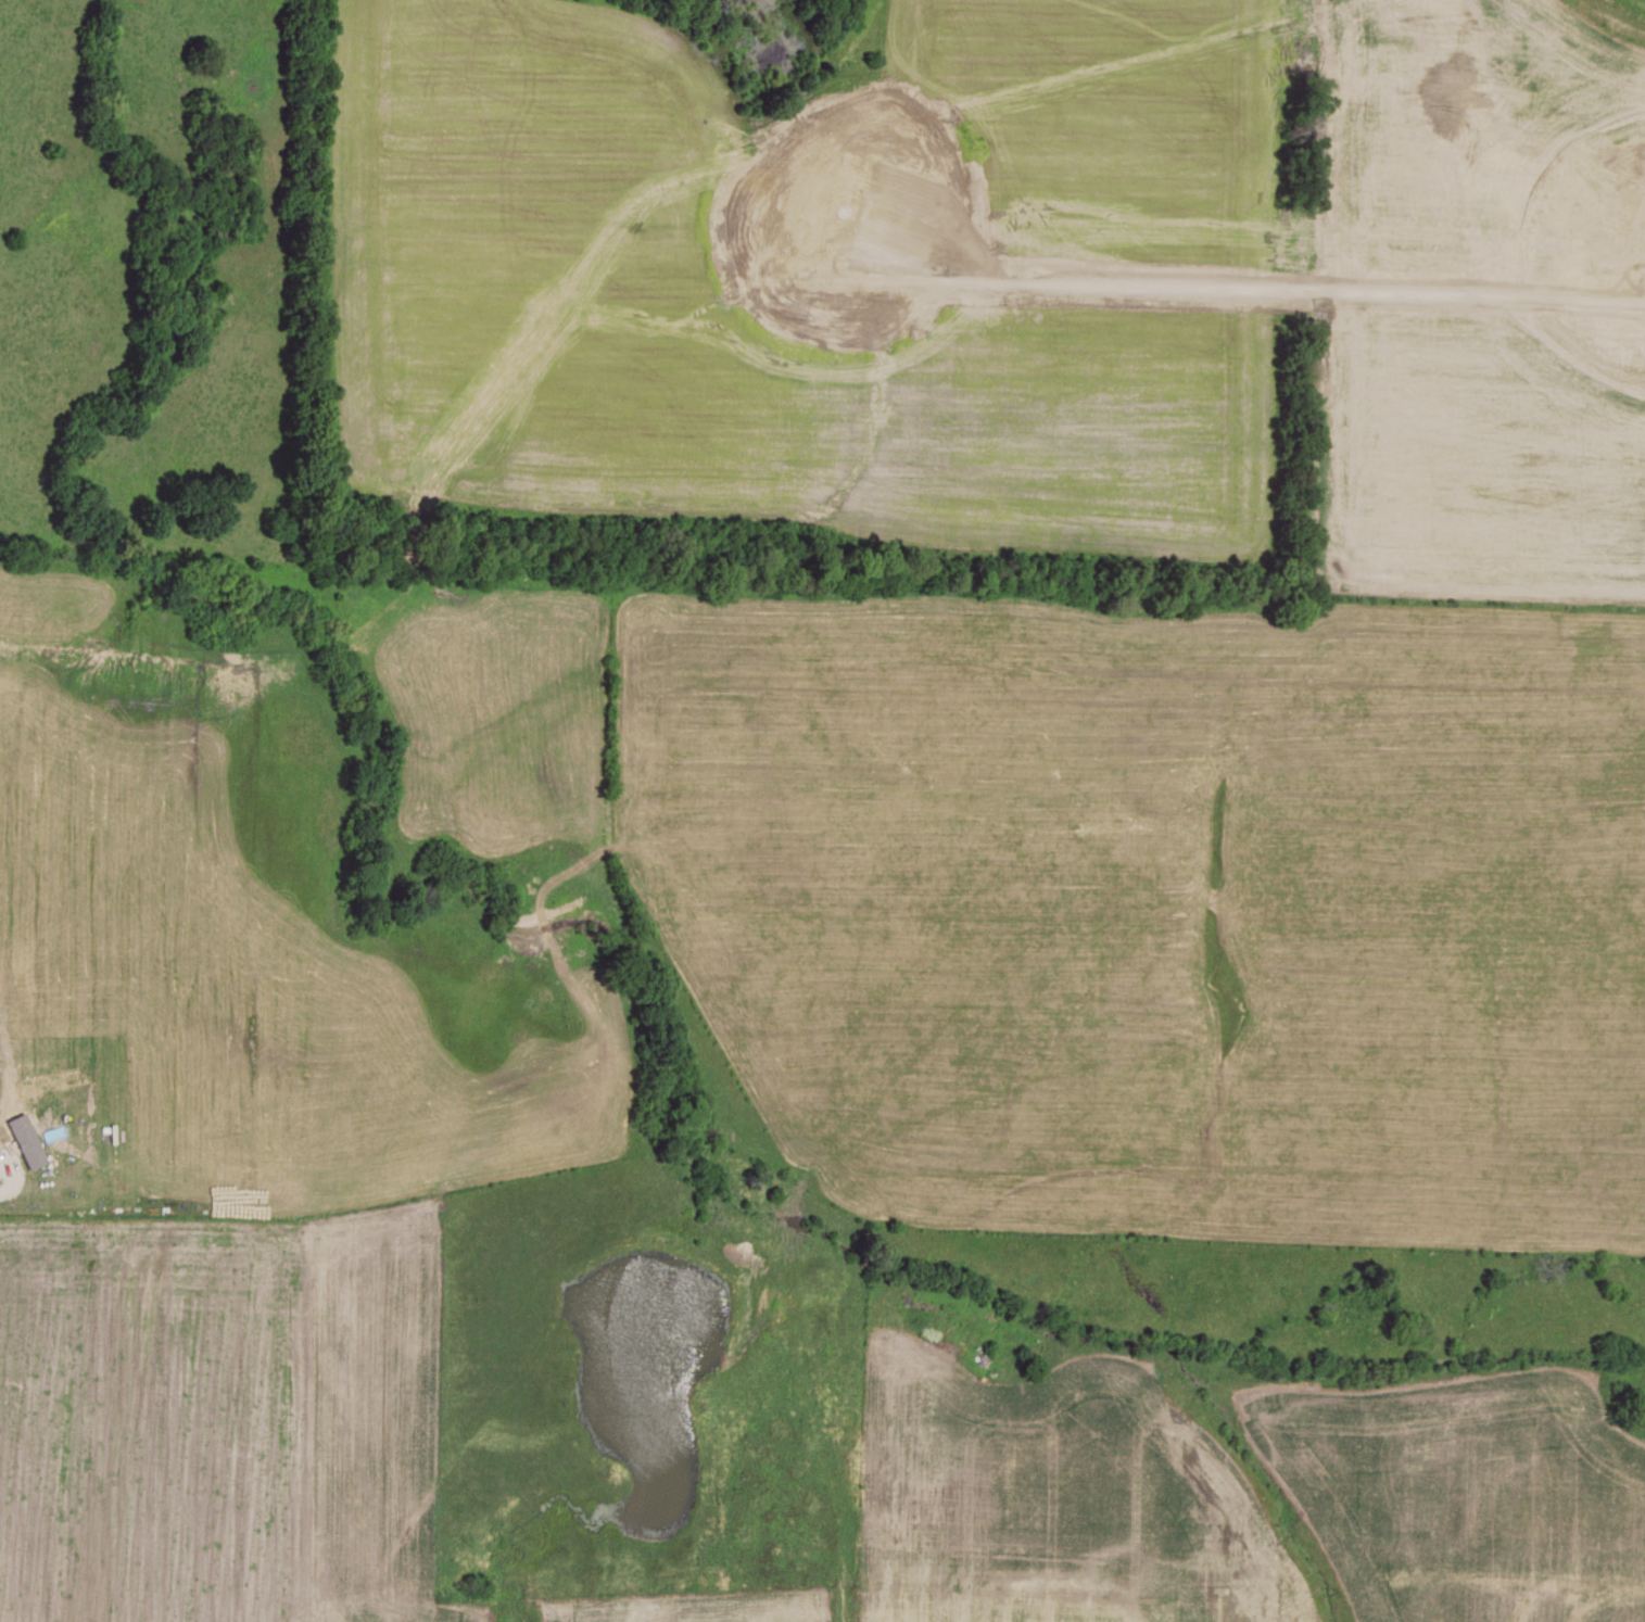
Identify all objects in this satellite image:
wind turbine: (842, 212)
building: (24, 1139)
road: (14, 1183)

